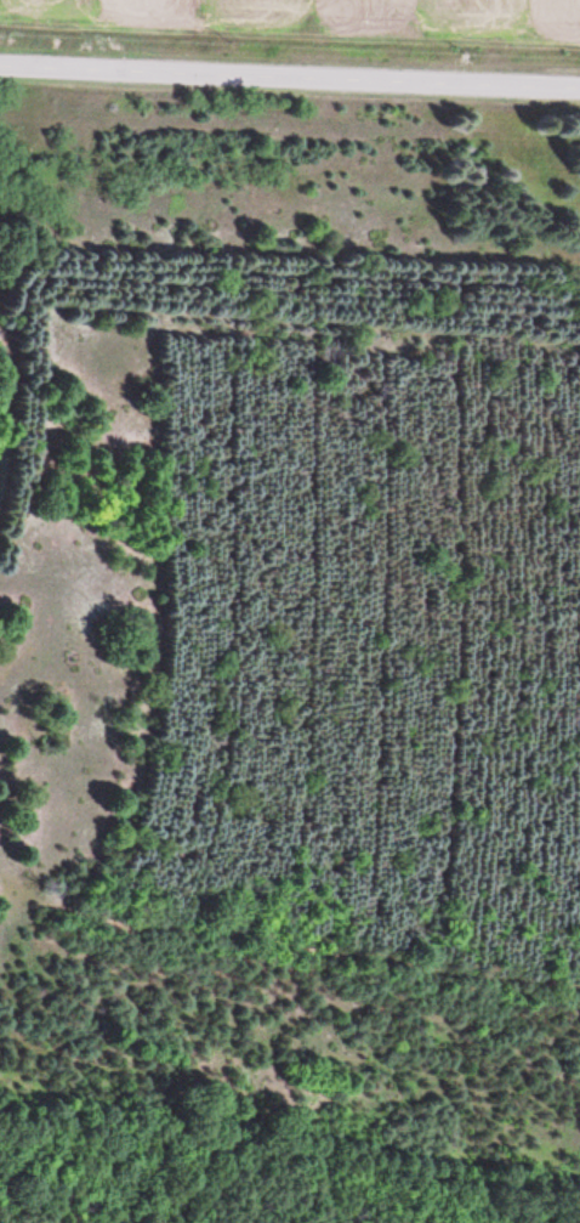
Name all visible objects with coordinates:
road: (290, 75)

